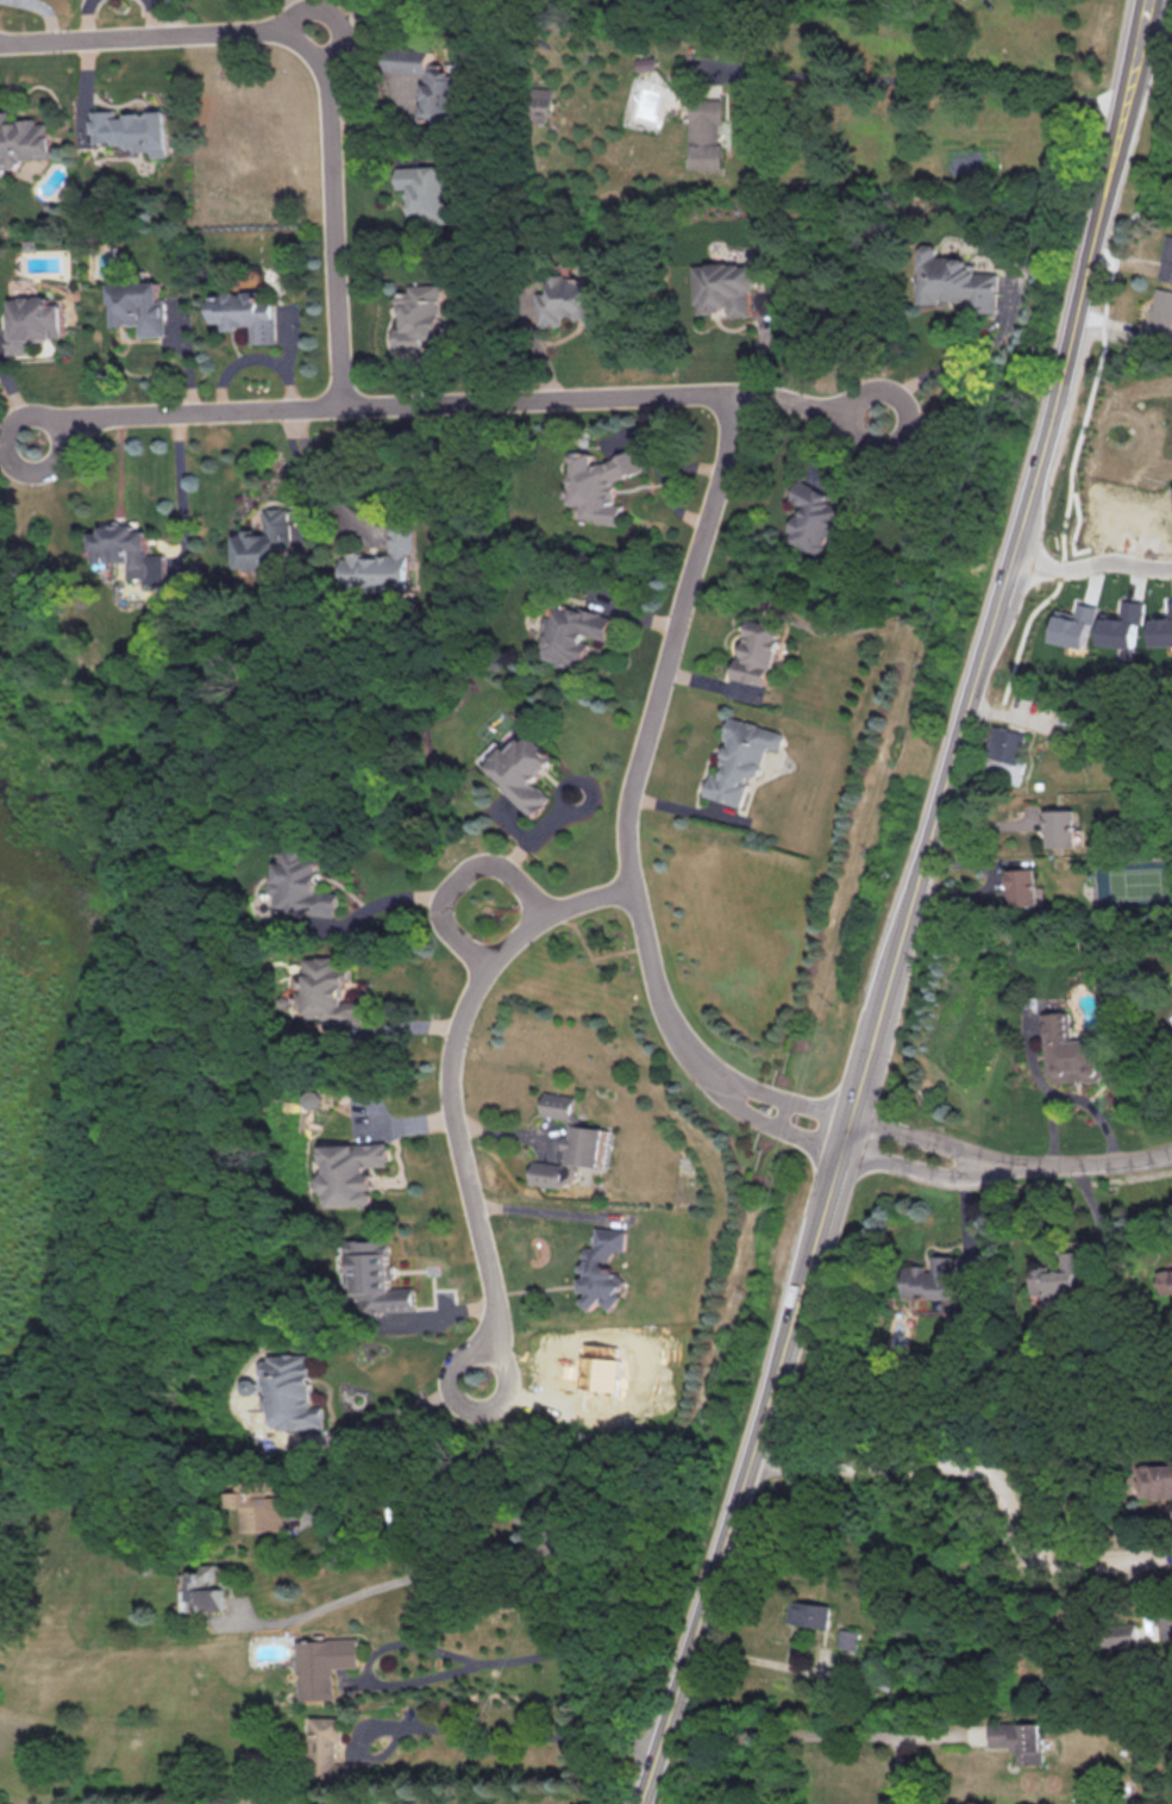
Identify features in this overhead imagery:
road: (415, 10)
road: (86, 19)
road: (159, 19)
road: (1141, 19)
road: (339, 23)
road: (1129, 71)
road: (309, 74)
building: (430, 81)
road: (923, 83)
building: (544, 102)
building: (134, 129)
building: (708, 130)
building: (24, 138)
road: (1115, 138)
building: (428, 191)
building: (1166, 260)
building: (953, 280)
building: (727, 287)
building: (569, 301)
building: (138, 305)
building: (249, 312)
building: (1160, 314)
building: (420, 316)
building: (33, 320)
road: (953, 357)
road: (439, 411)
road: (326, 476)
building: (603, 482)
building: (811, 516)
building: (268, 541)
building: (133, 553)
road: (1090, 562)
building: (384, 563)
road: (1008, 564)
building: (1124, 623)
building: (1076, 624)
building: (1162, 629)
building: (577, 633)
building: (759, 653)
building: (1007, 745)
building: (742, 759)
building: (524, 767)
road: (628, 816)
building: (1064, 828)
road: (458, 878)
building: (308, 884)
building: (1023, 886)
road: (376, 906)
building: (334, 990)
building: (1072, 1050)
road: (452, 1090)
building: (321, 1098)
building: (558, 1104)
road: (846, 1125)
building: (571, 1156)
road: (1007, 1165)
building: (358, 1172)
road: (550, 1210)
building: (602, 1267)
building: (932, 1276)
building: (1055, 1278)
building: (381, 1279)
building: (1166, 1280)
road: (783, 1346)
building: (600, 1366)
building: (296, 1391)
road: (405, 1412)
road: (980, 1473)
building: (1155, 1480)
road: (438, 1493)
building: (261, 1506)
road: (401, 1581)
building: (205, 1588)
road: (704, 1598)
building: (809, 1612)
building: (1123, 1634)
building: (850, 1637)
building: (325, 1663)
road: (587, 1665)
road: (475, 1667)
road: (501, 1733)
road: (808, 1734)
building: (1021, 1739)
building: (333, 1754)
building: (405, 1802)

